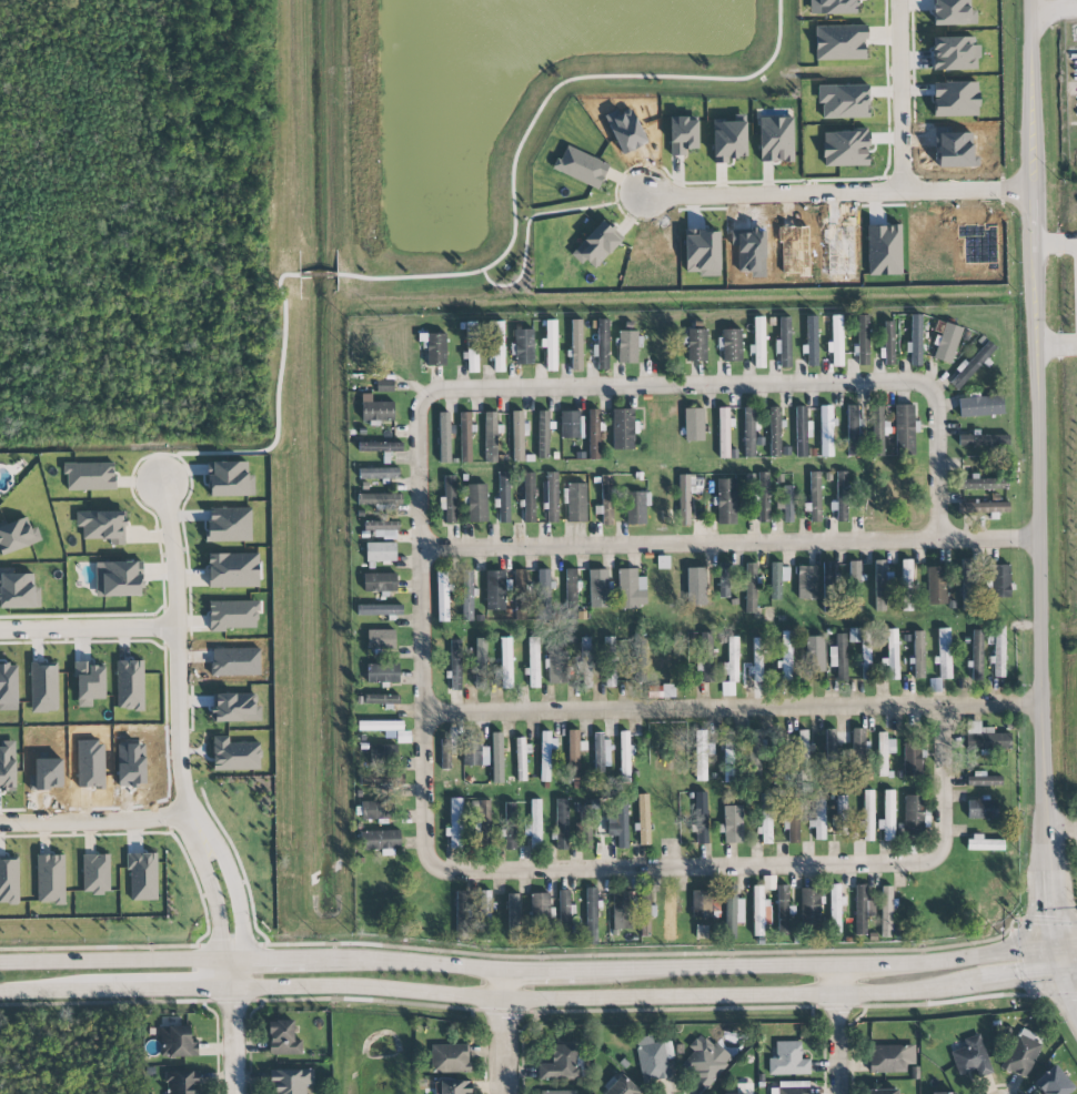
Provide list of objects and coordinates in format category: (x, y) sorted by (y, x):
road: (1066, 4)
road: (1071, 9)
road: (1048, 11)
building: (839, 42)
building: (955, 53)
road: (1068, 84)
building: (682, 134)
building: (728, 138)
building: (776, 139)
building: (845, 148)
road: (898, 161)
building: (581, 166)
road: (1033, 174)
road: (784, 199)
building: (596, 243)
road: (1056, 243)
building: (794, 249)
building: (749, 250)
building: (884, 250)
building: (702, 251)
building: (655, 259)
building: (863, 340)
building: (812, 341)
building: (836, 341)
building: (915, 341)
building: (758, 342)
building: (784, 342)
building: (550, 343)
building: (888, 343)
building: (947, 343)
building: (576, 344)
building: (695, 344)
building: (731, 344)
building: (602, 345)
building: (472, 346)
building: (497, 346)
building: (524, 346)
building: (627, 346)
building: (434, 348)
road: (1056, 348)
building: (970, 365)
road: (754, 384)
building: (378, 411)
building: (571, 424)
building: (693, 424)
building: (905, 428)
building: (622, 429)
building: (853, 429)
building: (878, 429)
building: (802, 430)
building: (748, 432)
building: (774, 432)
building: (826, 432)
building: (723, 433)
building: (543, 434)
building: (594, 434)
building: (517, 435)
building: (444, 437)
building: (465, 437)
building: (491, 437)
building: (983, 439)
building: (380, 446)
building: (378, 474)
building: (90, 476)
building: (230, 479)
building: (982, 484)
building: (687, 495)
building: (551, 496)
building: (815, 496)
building: (842, 496)
building: (504, 497)
building: (529, 497)
building: (763, 497)
building: (606, 499)
building: (380, 500)
building: (449, 500)
building: (726, 500)
building: (866, 502)
building: (476, 503)
building: (576, 503)
building: (785, 504)
building: (636, 507)
building: (983, 507)
building: (102, 526)
building: (382, 528)
building: (17, 535)
road: (729, 541)
building: (380, 551)
building: (233, 570)
building: (119, 579)
building: (777, 579)
building: (725, 580)
building: (968, 580)
building: (999, 580)
building: (380, 581)
building: (806, 581)
building: (906, 584)
building: (937, 584)
building: (520, 585)
building: (829, 585)
building: (879, 585)
building: (572, 586)
building: (544, 587)
building: (696, 587)
building: (751, 587)
building: (855, 587)
building: (598, 588)
building: (631, 589)
building: (18, 590)
building: (495, 590)
building: (442, 596)
building: (467, 596)
building: (379, 609)
road: (88, 628)
road: (423, 629)
building: (854, 635)
building: (381, 639)
road: (1039, 645)
building: (998, 652)
building: (703, 654)
building: (814, 654)
building: (893, 654)
building: (918, 654)
building: (944, 654)
building: (865, 655)
building: (977, 655)
building: (786, 656)
building: (838, 656)
building: (641, 659)
building: (733, 659)
building: (757, 659)
building: (611, 661)
road: (177, 662)
building: (505, 662)
building: (533, 662)
building: (587, 662)
building: (481, 664)
building: (455, 665)
building: (557, 667)
building: (382, 672)
building: (90, 680)
building: (130, 685)
building: (661, 691)
building: (380, 699)
building: (235, 707)
road: (732, 707)
building: (380, 726)
building: (403, 737)
building: (985, 738)
building: (727, 741)
building: (447, 749)
building: (859, 749)
building: (474, 751)
building: (625, 751)
building: (884, 752)
building: (601, 753)
building: (799, 753)
building: (234, 754)
building: (383, 754)
building: (545, 754)
building: (573, 754)
building: (754, 754)
building: (496, 758)
building: (521, 758)
building: (912, 758)
building: (777, 760)
building: (7, 763)
building: (382, 780)
building: (983, 780)
road: (945, 781)
building: (982, 809)
building: (374, 810)
building: (913, 813)
building: (841, 814)
building: (867, 816)
building: (887, 817)
building: (701, 818)
building: (643, 819)
building: (766, 819)
building: (818, 819)
building: (791, 821)
building: (482, 822)
building: (535, 822)
road: (93, 823)
building: (455, 823)
building: (562, 823)
road: (1060, 823)
building: (618, 824)
building: (733, 824)
building: (510, 825)
building: (585, 827)
building: (380, 840)
building: (984, 843)
road: (685, 867)
building: (95, 873)
building: (50, 879)
road: (236, 892)
road: (215, 899)
building: (705, 903)
building: (809, 905)
building: (542, 906)
building: (783, 908)
building: (835, 908)
building: (863, 908)
building: (485, 909)
building: (622, 910)
building: (733, 911)
building: (759, 911)
building: (886, 911)
building: (565, 914)
building: (463, 915)
building: (591, 915)
building: (514, 916)
building: (671, 918)
building: (701, 932)
road: (1063, 939)
road: (365, 943)
road: (909, 950)
road: (270, 956)
road: (117, 959)
road: (404, 960)
road: (812, 964)
road: (538, 968)
road: (1059, 975)
road: (972, 997)
road: (538, 1000)
road: (115, 1004)
road: (550, 1012)
road: (232, 1025)
road: (837, 1029)
road: (502, 1030)
building: (283, 1039)
building: (177, 1042)
building: (1021, 1053)
building: (972, 1057)
building: (450, 1058)
building: (890, 1058)
building: (705, 1060)
building: (787, 1060)
building: (652, 1061)
building: (561, 1063)
building: (291, 1081)
building: (181, 1082)
building: (1053, 1082)
building: (455, 1086)
building: (622, 1086)
building: (791, 1087)
building: (558, 1092)
building: (884, 1092)
building: (733, 1093)
building: (944, 1093)

